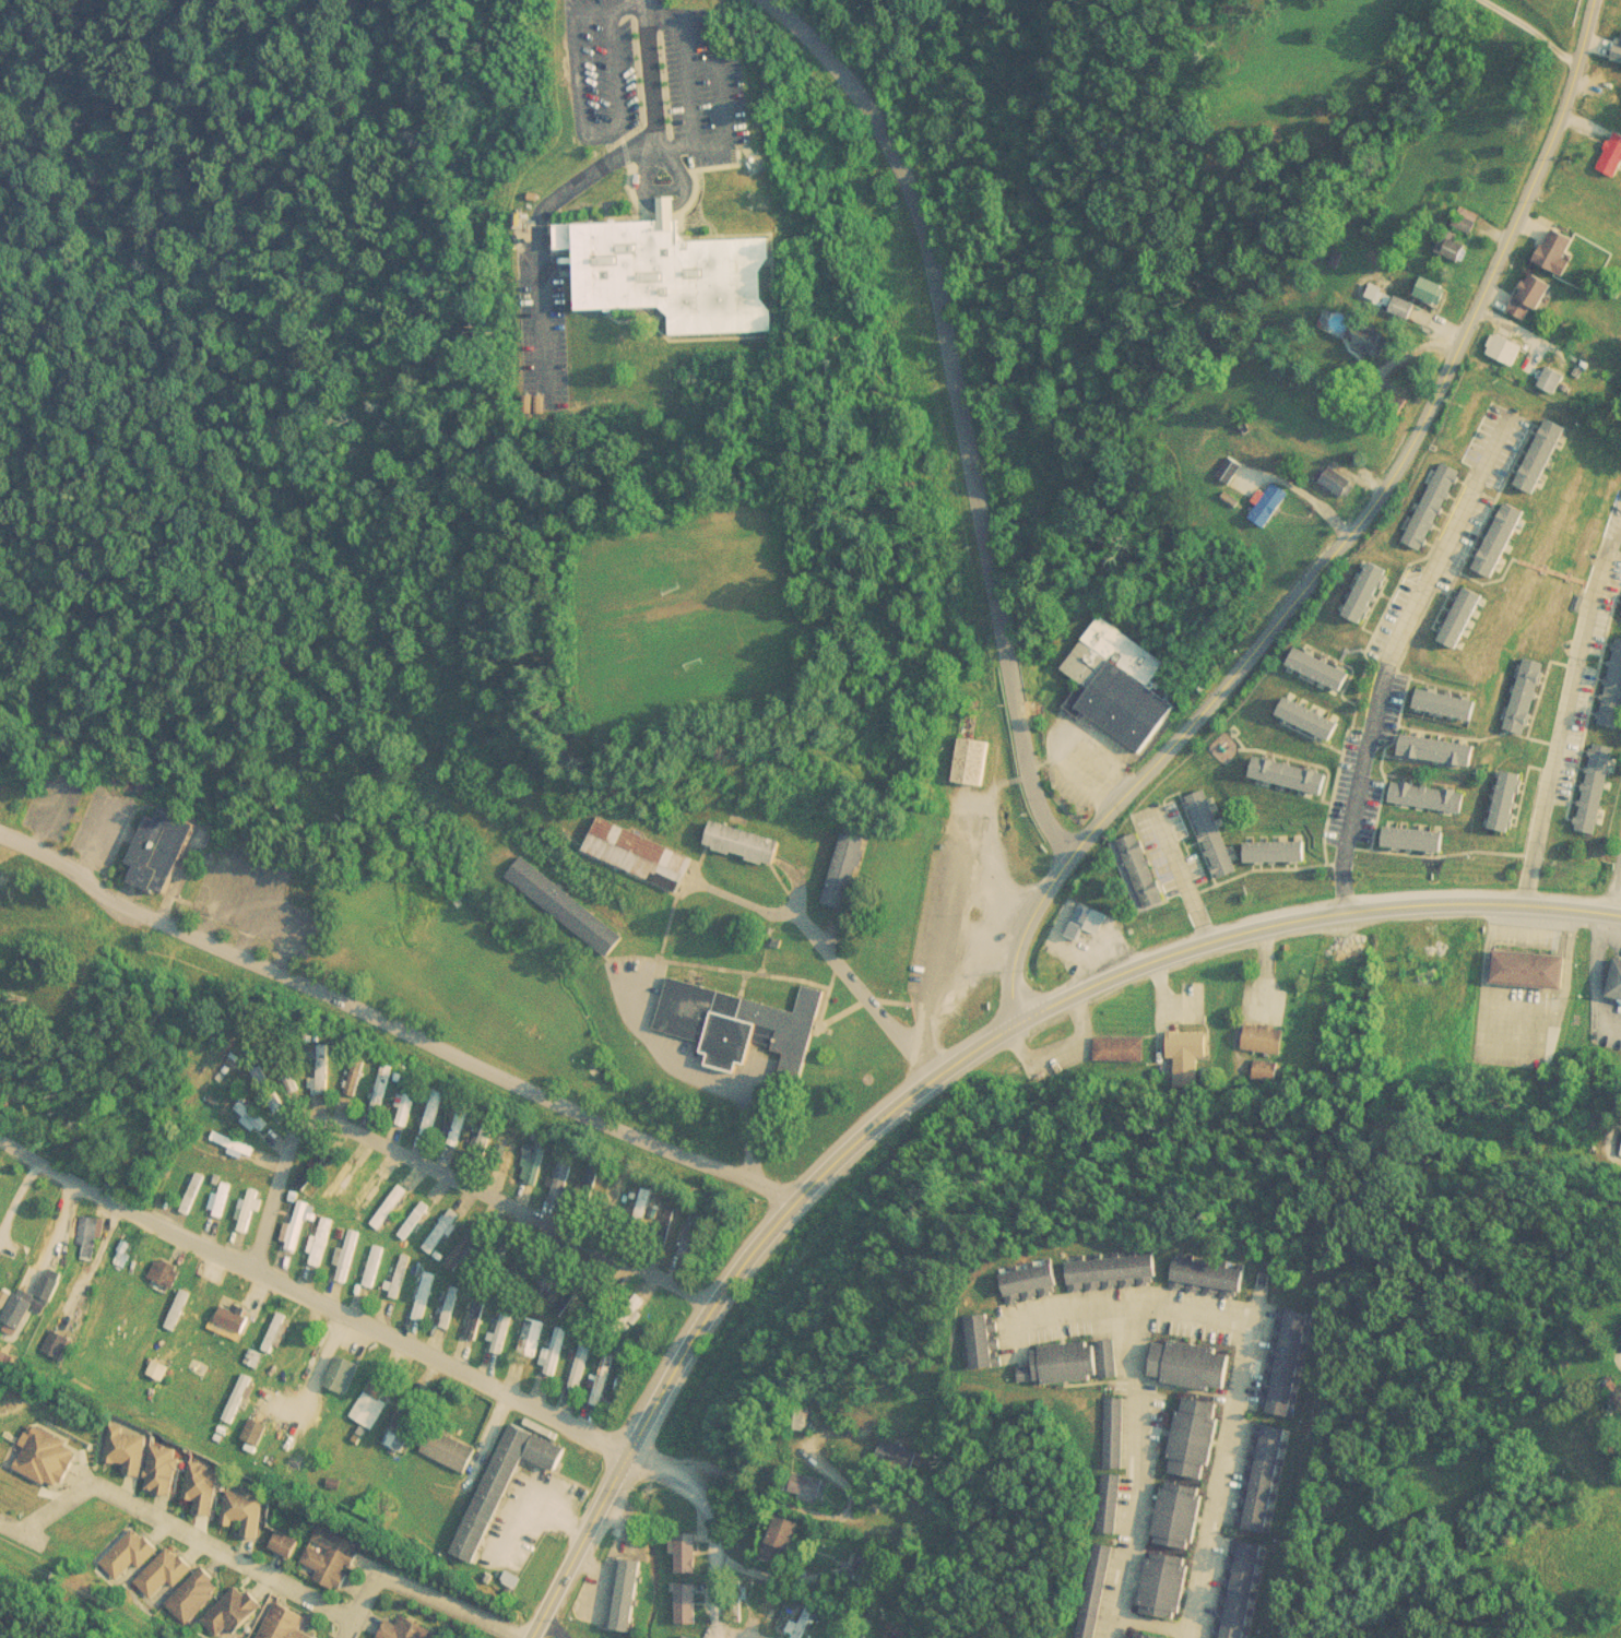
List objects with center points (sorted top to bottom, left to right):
road: (627, 7)
road: (583, 128)
road: (693, 133)
road: (579, 181)
building: (674, 273)
road: (960, 407)
road: (1347, 536)
road: (1394, 654)
building: (1116, 685)
road: (1563, 712)
building: (970, 762)
building: (742, 844)
building: (164, 848)
building: (640, 854)
building: (1133, 857)
building: (844, 873)
road: (1179, 882)
road: (1618, 882)
building: (559, 900)
road: (1313, 916)
road: (821, 957)
road: (940, 989)
road: (391, 1024)
building: (738, 1025)
building: (1116, 1049)
building: (326, 1069)
road: (702, 1078)
building: (386, 1087)
building: (413, 1096)
building: (256, 1113)
building: (488, 1142)
building: (237, 1143)
building: (514, 1153)
building: (541, 1160)
building: (317, 1167)
road: (439, 1171)
building: (564, 1180)
building: (594, 1184)
building: (341, 1188)
building: (370, 1191)
building: (197, 1192)
building: (225, 1198)
road: (129, 1201)
building: (394, 1204)
building: (252, 1210)
building: (418, 1219)
building: (660, 1220)
building: (301, 1224)
building: (446, 1230)
building: (92, 1234)
building: (688, 1234)
building: (324, 1241)
building: (471, 1242)
building: (500, 1250)
building: (350, 1258)
building: (378, 1265)
building: (1111, 1270)
building: (168, 1271)
building: (404, 1274)
building: (1029, 1279)
road: (726, 1286)
building: (428, 1294)
building: (572, 1295)
building: (22, 1309)
building: (184, 1310)
building: (481, 1315)
building: (506, 1325)
building: (281, 1331)
building: (127, 1332)
building: (536, 1334)
building: (977, 1340)
building: (60, 1343)
building: (558, 1351)
building: (230, 1356)
road: (1249, 1356)
road: (445, 1362)
building: (1067, 1362)
building: (345, 1372)
building: (241, 1394)
building: (375, 1400)
building: (253, 1432)
building: (400, 1433)
building: (1112, 1433)
building: (446, 1450)
building: (123, 1451)
building: (888, 1452)
building: (43, 1458)
building: (158, 1470)
road: (1141, 1475)
building: (500, 1484)
building: (803, 1485)
building: (200, 1487)
building: (1108, 1504)
building: (242, 1511)
road: (709, 1524)
road: (173, 1532)
building: (780, 1540)
building: (281, 1543)
building: (684, 1553)
building: (328, 1556)
building: (864, 1566)
road: (414, 1590)
building: (1091, 1591)
building: (625, 1594)
building: (191, 1595)
building: (684, 1603)
building: (735, 1603)
building: (229, 1612)
building: (774, 1614)
building: (838, 1616)
building: (282, 1623)
road: (1155, 1626)
building: (403, 1629)
building: (1144, 1635)
building: (889, 1636)

